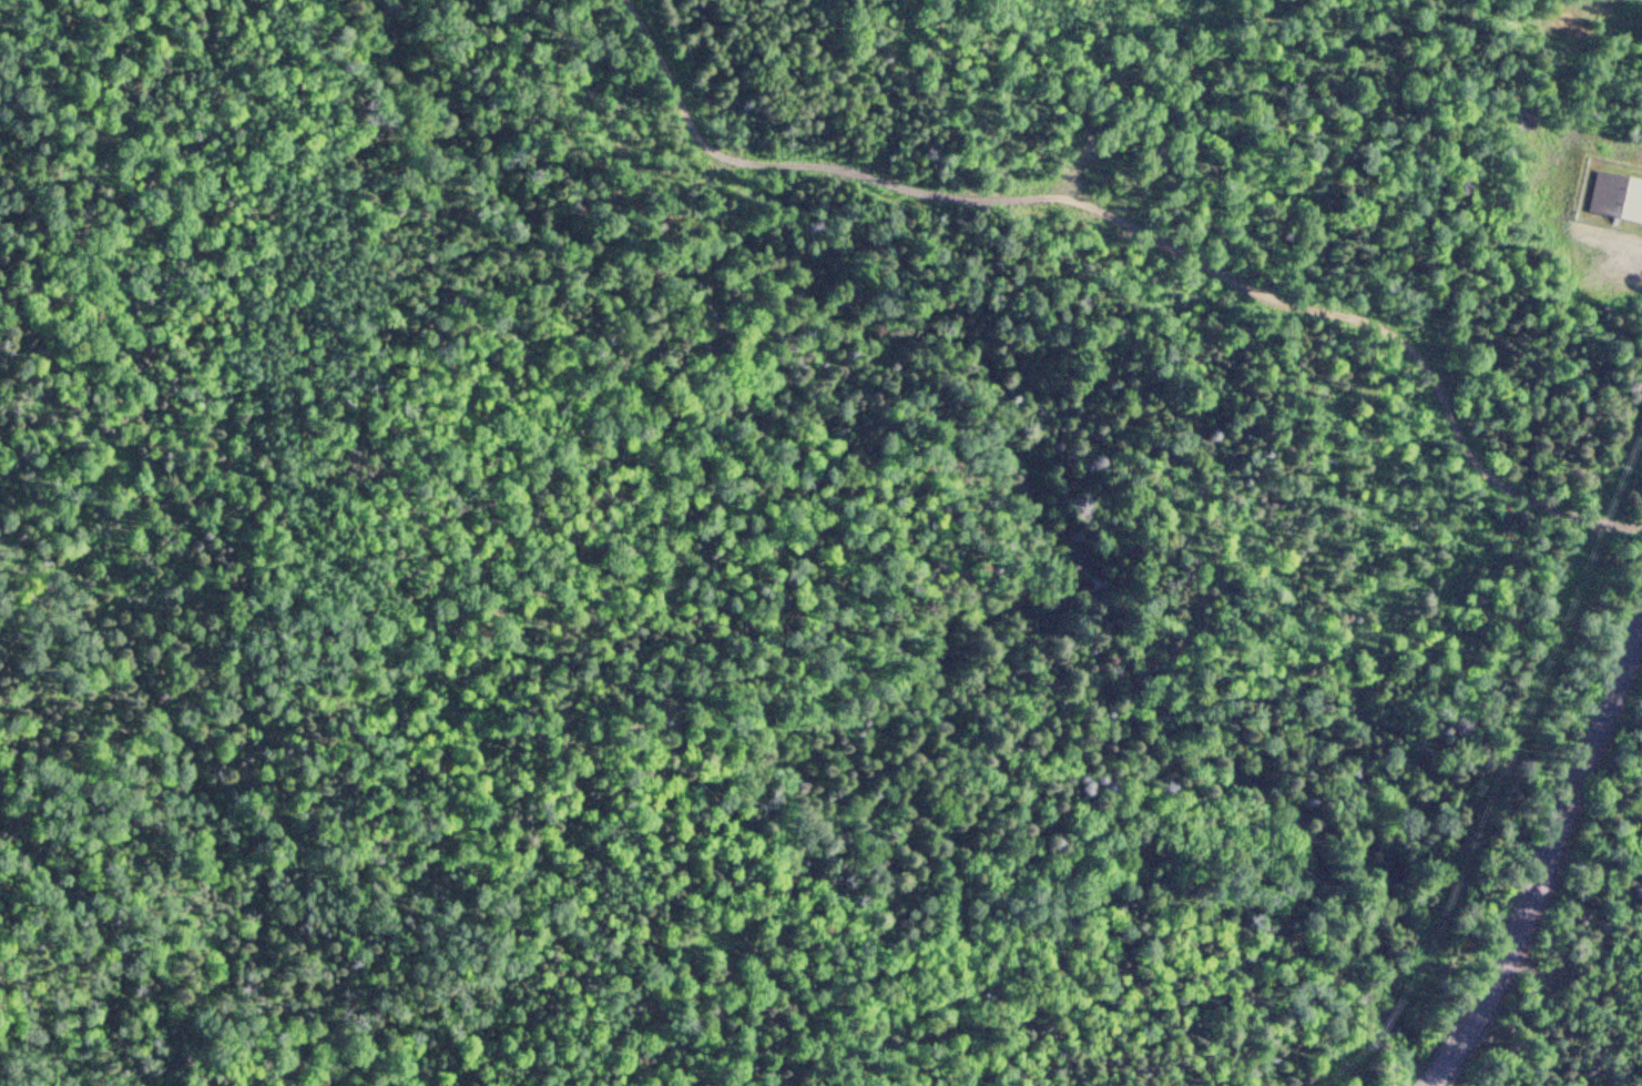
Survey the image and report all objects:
building: (1618, 199)
road: (1145, 225)
road: (1611, 240)
road: (1544, 863)

